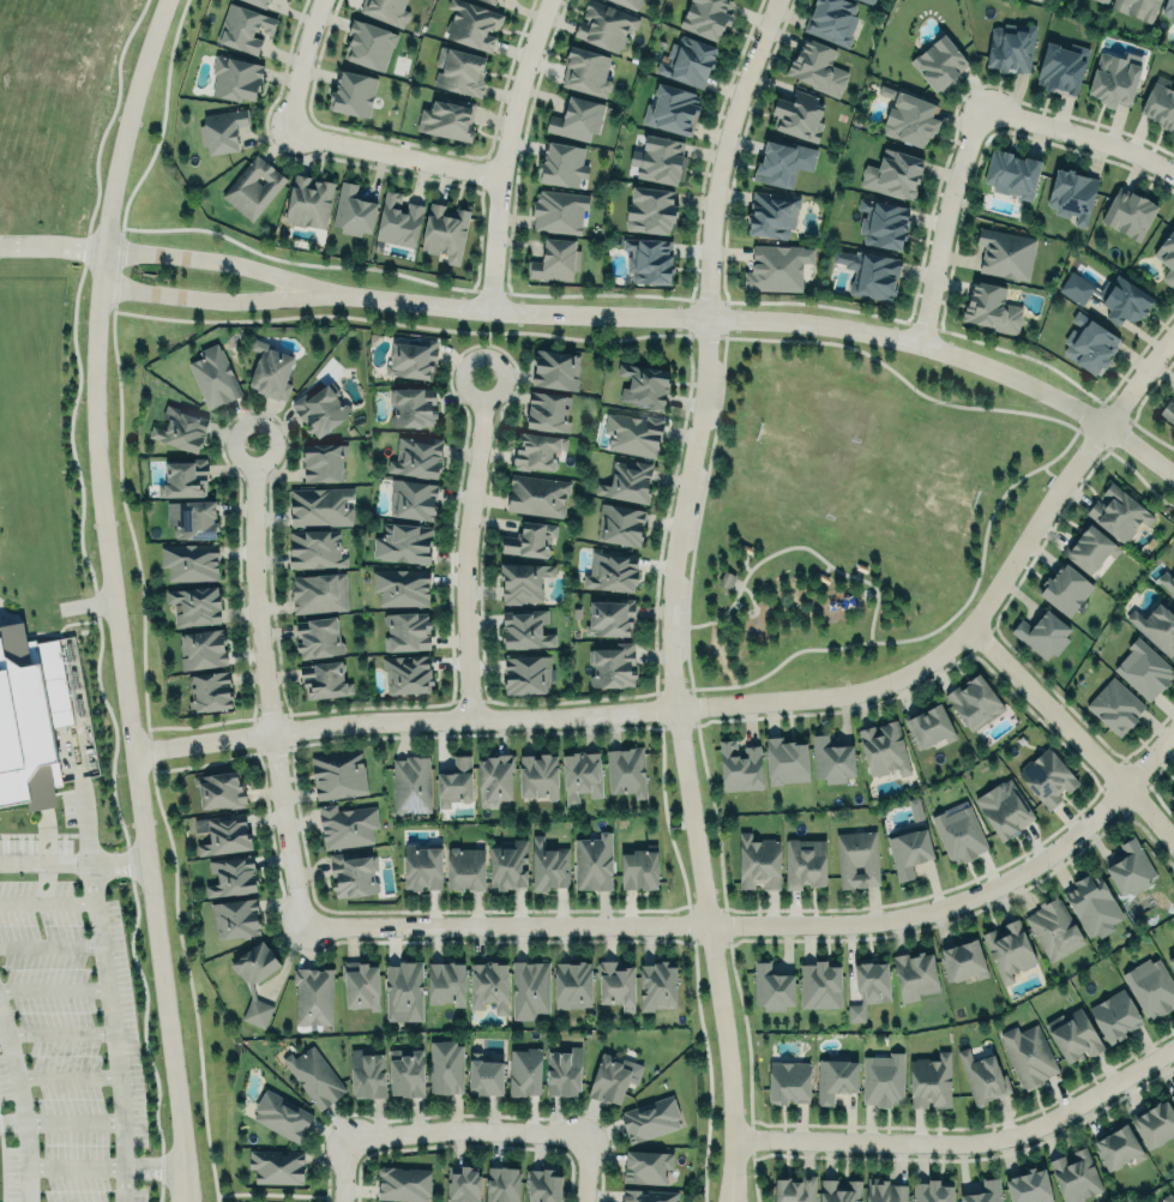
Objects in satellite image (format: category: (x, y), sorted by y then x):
building: (1104, 0)
building: (490, 1)
building: (867, 1)
building: (259, 2)
building: (627, 4)
building: (1136, 7)
building: (385, 10)
building: (1168, 10)
building: (705, 17)
building: (831, 19)
building: (471, 24)
building: (603, 25)
building: (245, 28)
building: (368, 44)
building: (1010, 47)
building: (686, 60)
building: (938, 62)
road: (300, 65)
building: (817, 66)
building: (1060, 67)
building: (458, 70)
building: (584, 72)
building: (234, 77)
building: (1113, 78)
building: (351, 94)
building: (1161, 102)
building: (672, 108)
building: (797, 115)
building: (446, 119)
building: (576, 119)
building: (909, 119)
road: (127, 121)
building: (221, 130)
road: (1080, 134)
road: (504, 151)
road: (395, 152)
building: (658, 160)
building: (781, 162)
building: (560, 164)
building: (1010, 173)
building: (892, 174)
building: (252, 186)
building: (1071, 194)
building: (308, 202)
building: (650, 210)
building: (351, 211)
building: (558, 211)
building: (1127, 212)
building: (771, 214)
building: (397, 221)
road: (943, 222)
building: (881, 223)
building: (444, 230)
road: (52, 242)
building: (1005, 253)
building: (1167, 257)
road: (216, 259)
building: (648, 259)
building: (555, 260)
building: (775, 268)
building: (868, 274)
building: (1108, 296)
road: (211, 299)
building: (991, 307)
road: (767, 318)
road: (724, 333)
road: (486, 343)
building: (1089, 343)
building: (408, 360)
building: (554, 368)
road: (895, 371)
building: (270, 372)
building: (212, 375)
building: (644, 384)
parking lot: (714, 393)
building: (411, 407)
building: (319, 409)
building: (547, 410)
building: (1167, 411)
building: (179, 427)
building: (632, 433)
road: (1067, 441)
building: (537, 450)
building: (415, 456)
building: (323, 462)
road: (1047, 470)
building: (182, 477)
building: (626, 481)
building: (536, 494)
building: (411, 498)
building: (318, 505)
parking lot: (694, 507)
park: (853, 507)
road: (698, 511)
building: (1116, 513)
building: (191, 517)
building: (619, 524)
building: (528, 539)
building: (403, 542)
road: (796, 545)
road: (468, 547)
building: (313, 548)
building: (1089, 548)
building: (189, 559)
road: (673, 565)
building: (610, 571)
building: (522, 581)
building: (1167, 581)
building: (399, 585)
building: (1064, 588)
building: (318, 591)
building: (193, 605)
building: (609, 615)
parking lot: (681, 617)
building: (1152, 625)
building: (524, 629)
building: (404, 631)
building: (1042, 633)
road: (909, 637)
building: (318, 638)
building: (200, 649)
building: (610, 665)
building: (1143, 669)
building: (407, 673)
building: (525, 673)
building: (324, 681)
road: (266, 684)
building: (207, 691)
building: (974, 699)
road: (741, 703)
building: (1114, 705)
building: (41, 717)
road: (131, 722)
building: (928, 722)
road: (1071, 732)
building: (884, 746)
building: (831, 756)
building: (785, 758)
building: (739, 767)
building: (625, 769)
building: (537, 773)
building: (338, 774)
building: (494, 774)
building: (580, 775)
building: (1047, 777)
building: (454, 781)
building: (411, 783)
building: (219, 787)
building: (1170, 793)
building: (999, 805)
building: (914, 807)
building: (347, 823)
parking lot: (66, 828)
building: (958, 833)
building: (224, 834)
building: (908, 851)
building: (856, 857)
building: (803, 860)
road: (74, 861)
building: (592, 861)
building: (758, 861)
building: (507, 863)
road: (90, 864)
building: (422, 864)
building: (464, 865)
building: (548, 865)
building: (1130, 865)
building: (639, 866)
building: (351, 873)
building: (230, 875)
building: (1091, 901)
road: (47, 902)
building: (235, 916)
road: (771, 922)
building: (1046, 928)
building: (1007, 949)
building: (962, 957)
building: (1170, 958)
building: (914, 975)
building: (255, 976)
building: (360, 982)
building: (445, 982)
building: (488, 982)
building: (572, 984)
building: (819, 984)
building: (615, 985)
building: (657, 985)
building: (771, 985)
building: (868, 985)
road: (53, 986)
building: (529, 986)
building: (1150, 986)
building: (403, 988)
building: (312, 993)
building: (1110, 1012)
road: (60, 1032)
building: (1067, 1034)
road: (114, 1040)
parking lot: (67, 1046)
building: (1027, 1052)
road: (13, 1065)
building: (445, 1066)
building: (524, 1069)
building: (562, 1069)
building: (407, 1070)
building: (366, 1071)
building: (486, 1074)
building: (982, 1074)
building: (314, 1076)
building: (609, 1076)
building: (835, 1076)
building: (883, 1076)
building: (931, 1078)
building: (788, 1082)
building: (1172, 1094)
building: (281, 1114)
building: (650, 1117)
road: (12, 1119)
road: (72, 1120)
building: (1154, 1123)
road: (465, 1128)
road: (964, 1142)
building: (1116, 1144)
road: (24, 1160)
road: (74, 1165)
building: (646, 1165)
building: (276, 1166)
road: (585, 1167)
road: (153, 1168)
road: (727, 1170)
road: (733, 1170)
road: (342, 1171)
building: (1074, 1174)
building: (501, 1182)
building: (403, 1183)
building: (462, 1183)
building: (544, 1184)
building: (1029, 1185)
building: (795, 1189)
building: (839, 1190)
building: (885, 1190)
building: (932, 1190)
building: (983, 1191)
road: (264, 1192)
building: (649, 1195)
building: (1168, 1196)
road: (186, 1200)
road: (188, 1200)

